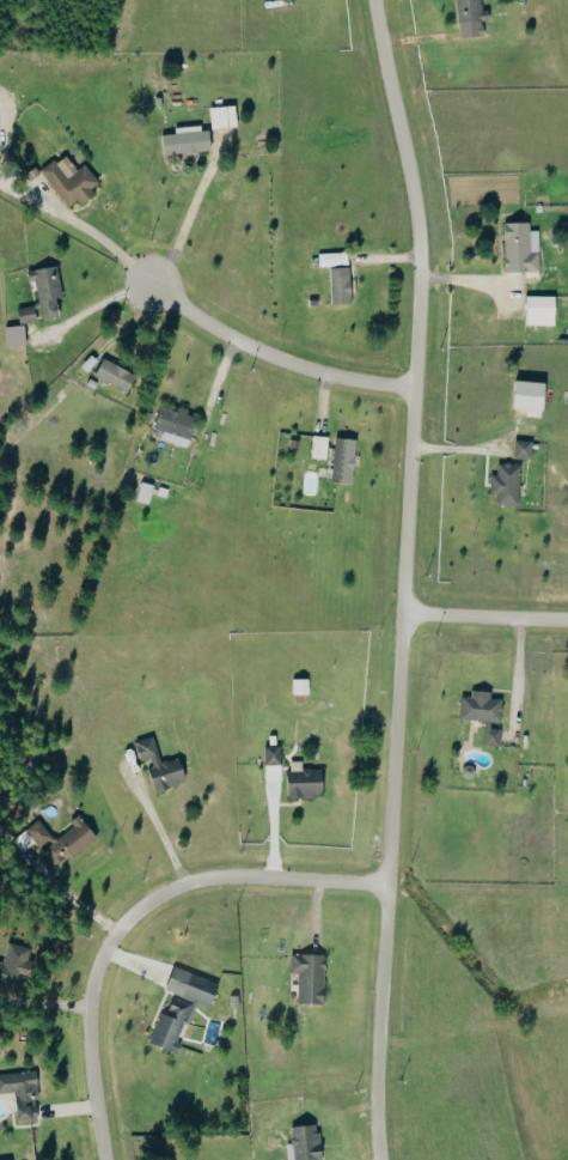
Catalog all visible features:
building: (469, 18)
building: (220, 117)
building: (184, 141)
building: (67, 181)
road: (179, 226)
road: (81, 230)
building: (518, 248)
building: (330, 260)
building: (337, 286)
building: (44, 291)
building: (537, 311)
building: (23, 316)
building: (12, 336)
road: (276, 358)
building: (86, 364)
building: (111, 376)
building: (524, 395)
building: (171, 427)
building: (317, 448)
building: (521, 450)
building: (341, 461)
building: (505, 486)
road: (401, 578)
road: (482, 618)
building: (481, 715)
building: (270, 757)
building: (155, 766)
building: (300, 783)
road: (159, 831)
building: (55, 842)
road: (71, 898)
road: (132, 910)
building: (12, 966)
building: (306, 978)
building: (177, 1007)
building: (19, 1095)
building: (301, 1143)

